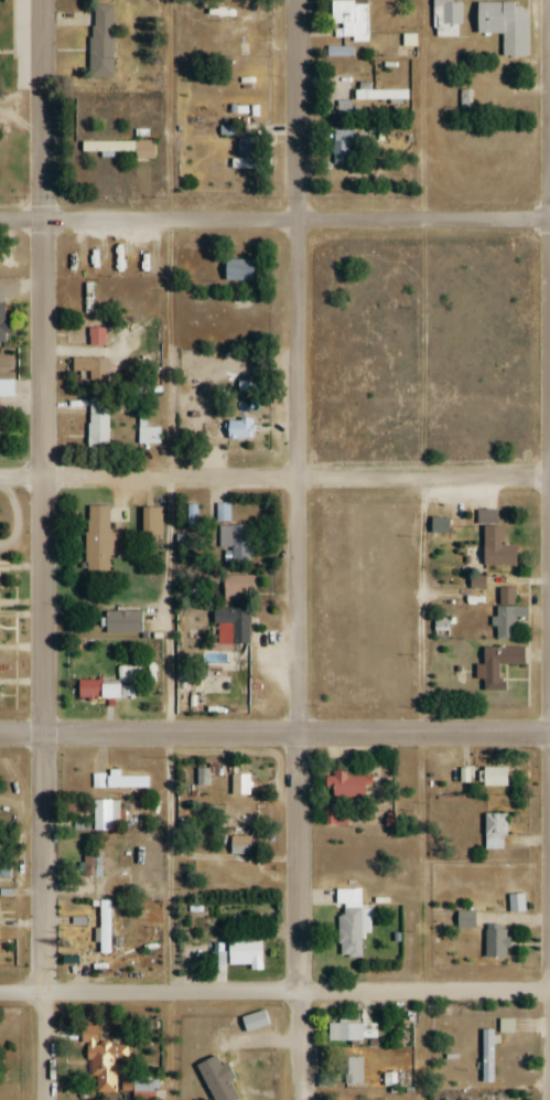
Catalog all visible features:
building: (349, 19)
building: (446, 19)
building: (504, 26)
building: (100, 40)
building: (338, 52)
building: (380, 94)
road: (421, 109)
road: (171, 110)
building: (244, 147)
building: (341, 147)
building: (121, 148)
road: (274, 223)
building: (238, 270)
building: (88, 298)
building: (1, 323)
building: (95, 337)
building: (6, 387)
building: (98, 424)
building: (237, 428)
building: (147, 430)
road: (216, 446)
road: (274, 478)
road: (170, 479)
building: (222, 512)
building: (150, 521)
building: (439, 525)
building: (98, 538)
building: (235, 544)
building: (496, 547)
road: (42, 549)
road: (299, 549)
building: (235, 588)
building: (505, 595)
building: (507, 621)
building: (231, 626)
road: (423, 659)
building: (498, 665)
building: (111, 686)
road: (274, 733)
building: (203, 777)
building: (494, 777)
building: (240, 784)
building: (345, 784)
building: (3, 811)
building: (100, 815)
building: (237, 819)
building: (495, 831)
building: (239, 844)
building: (93, 865)
building: (4, 871)
building: (349, 925)
building: (104, 928)
building: (495, 943)
building: (244, 953)
road: (274, 992)
building: (352, 1032)
building: (100, 1061)
building: (217, 1065)
building: (349, 1070)
building: (483, 1099)

